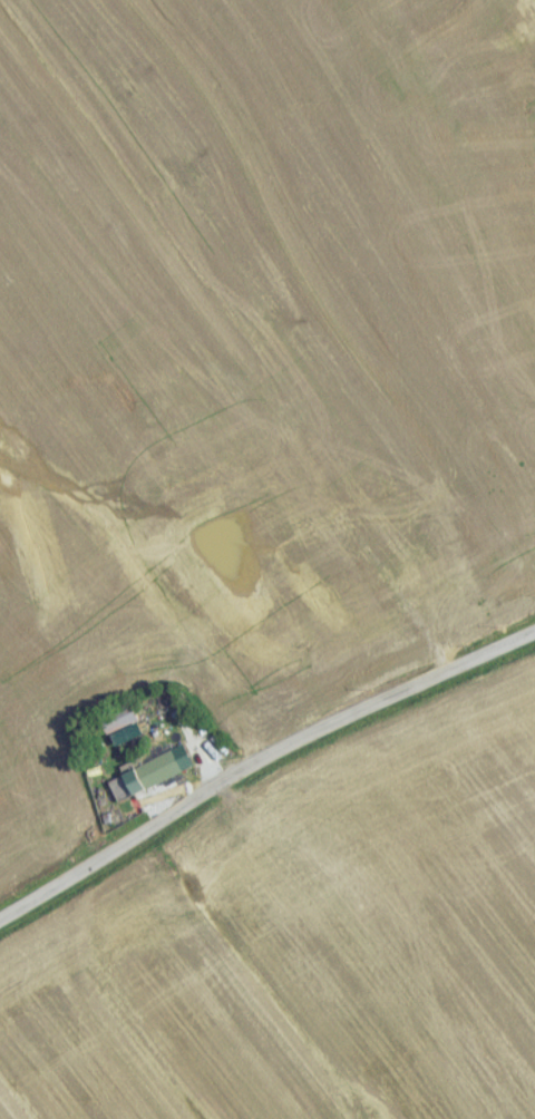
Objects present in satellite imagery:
building: (124, 726)
road: (259, 760)
building: (155, 779)

